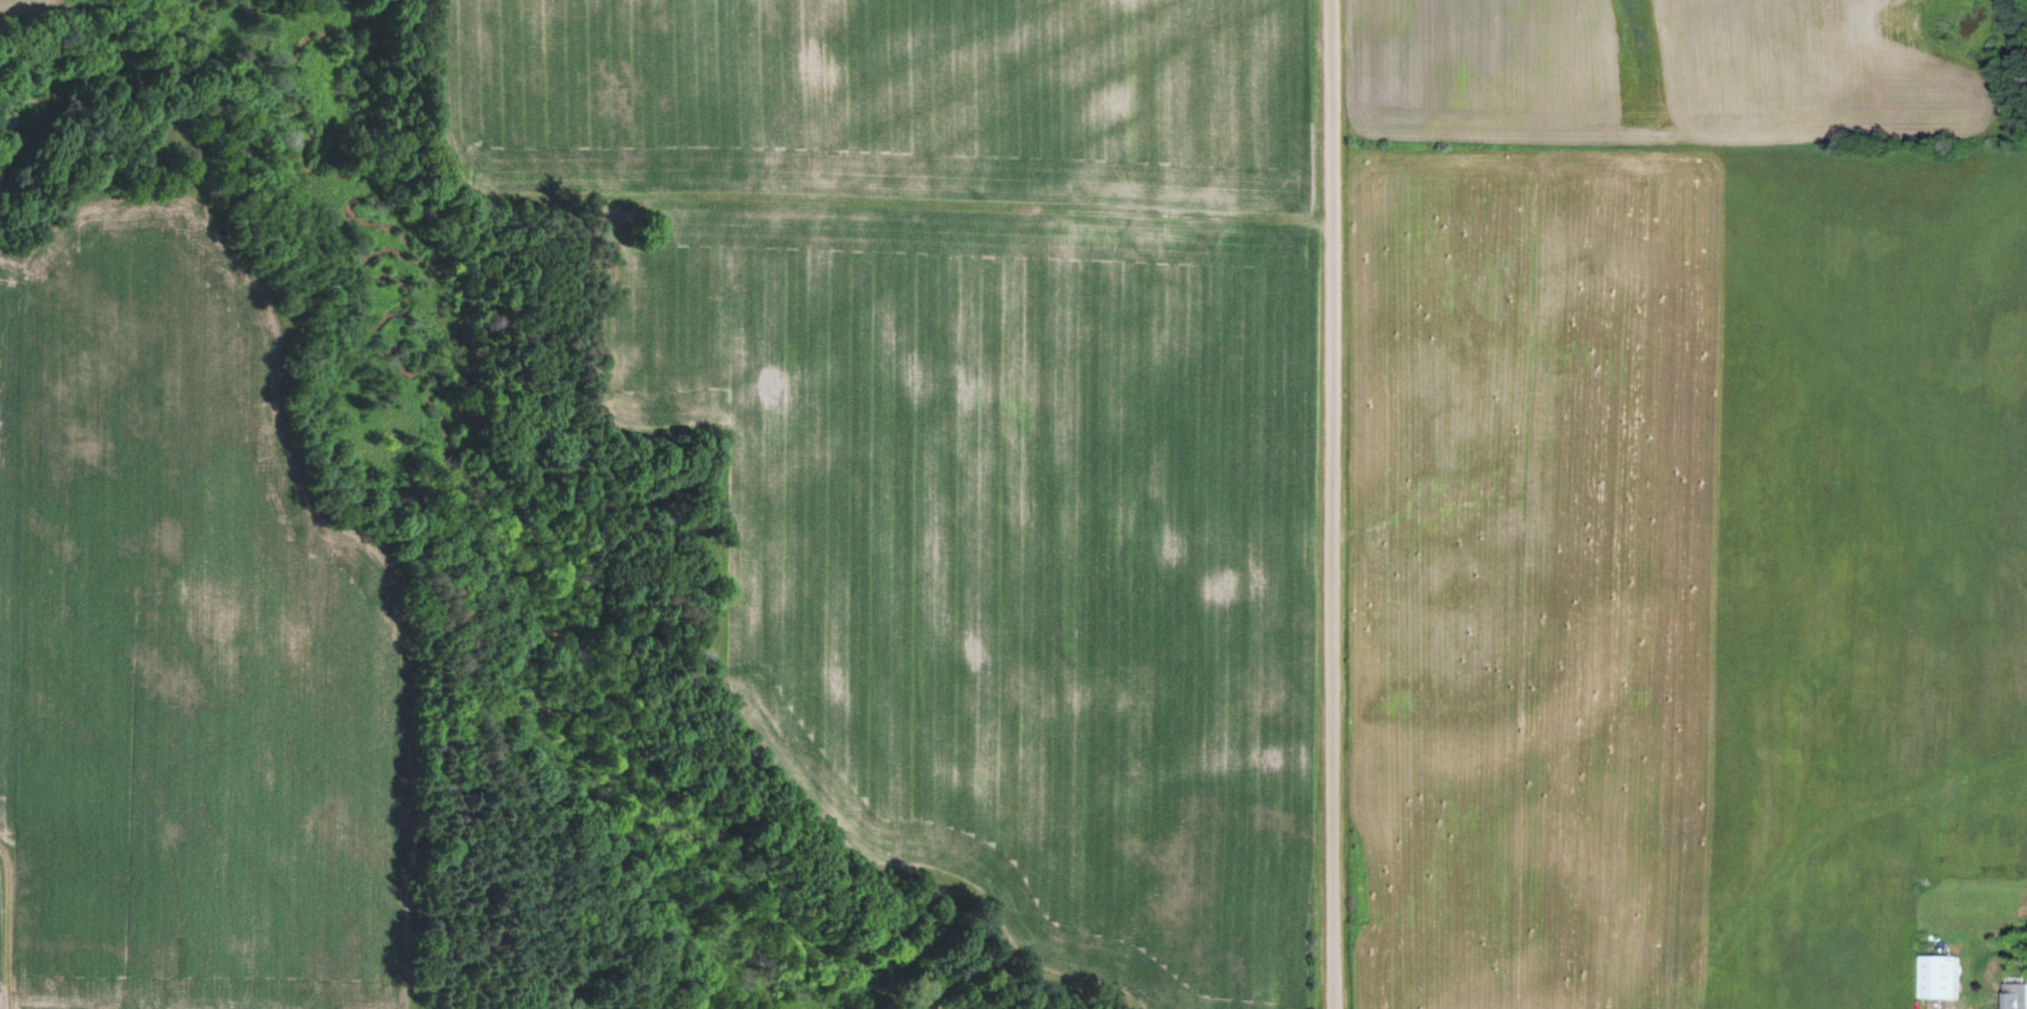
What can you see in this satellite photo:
road: (1333, 504)
building: (1945, 978)
building: (2018, 994)

